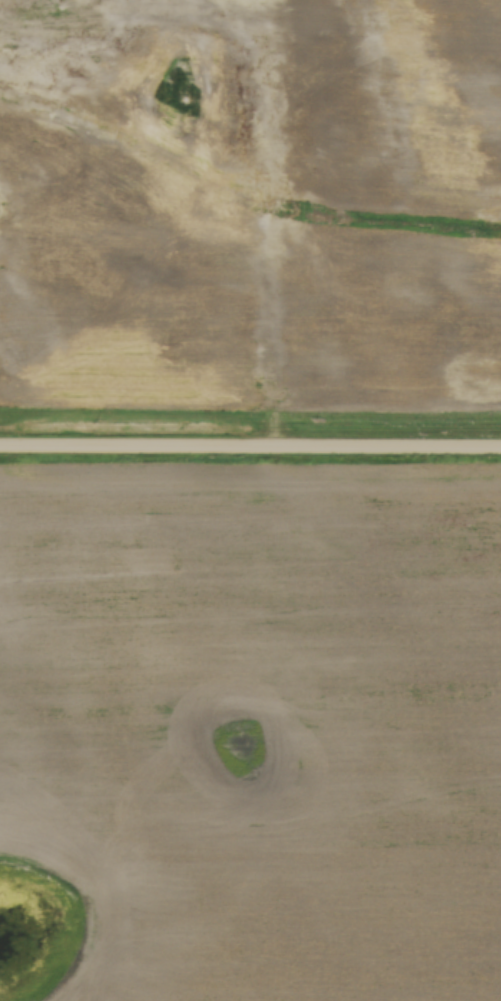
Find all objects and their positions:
road: (250, 450)

